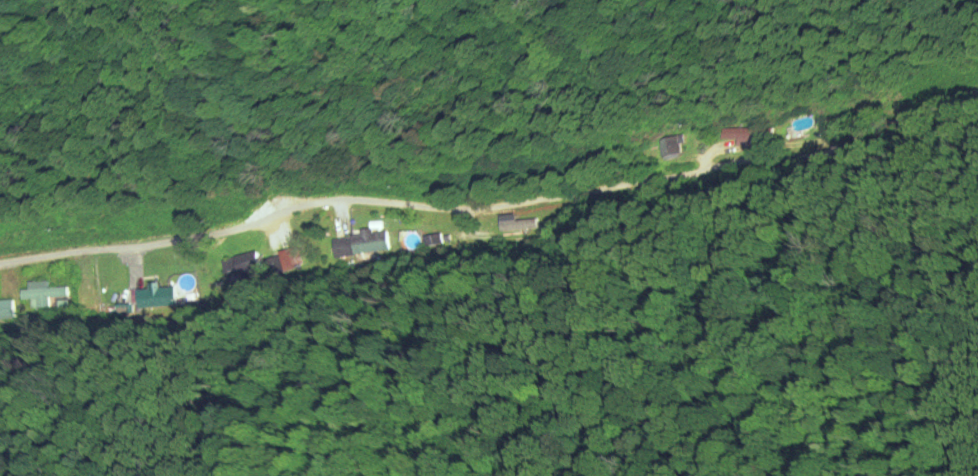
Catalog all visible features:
road: (497, 172)

